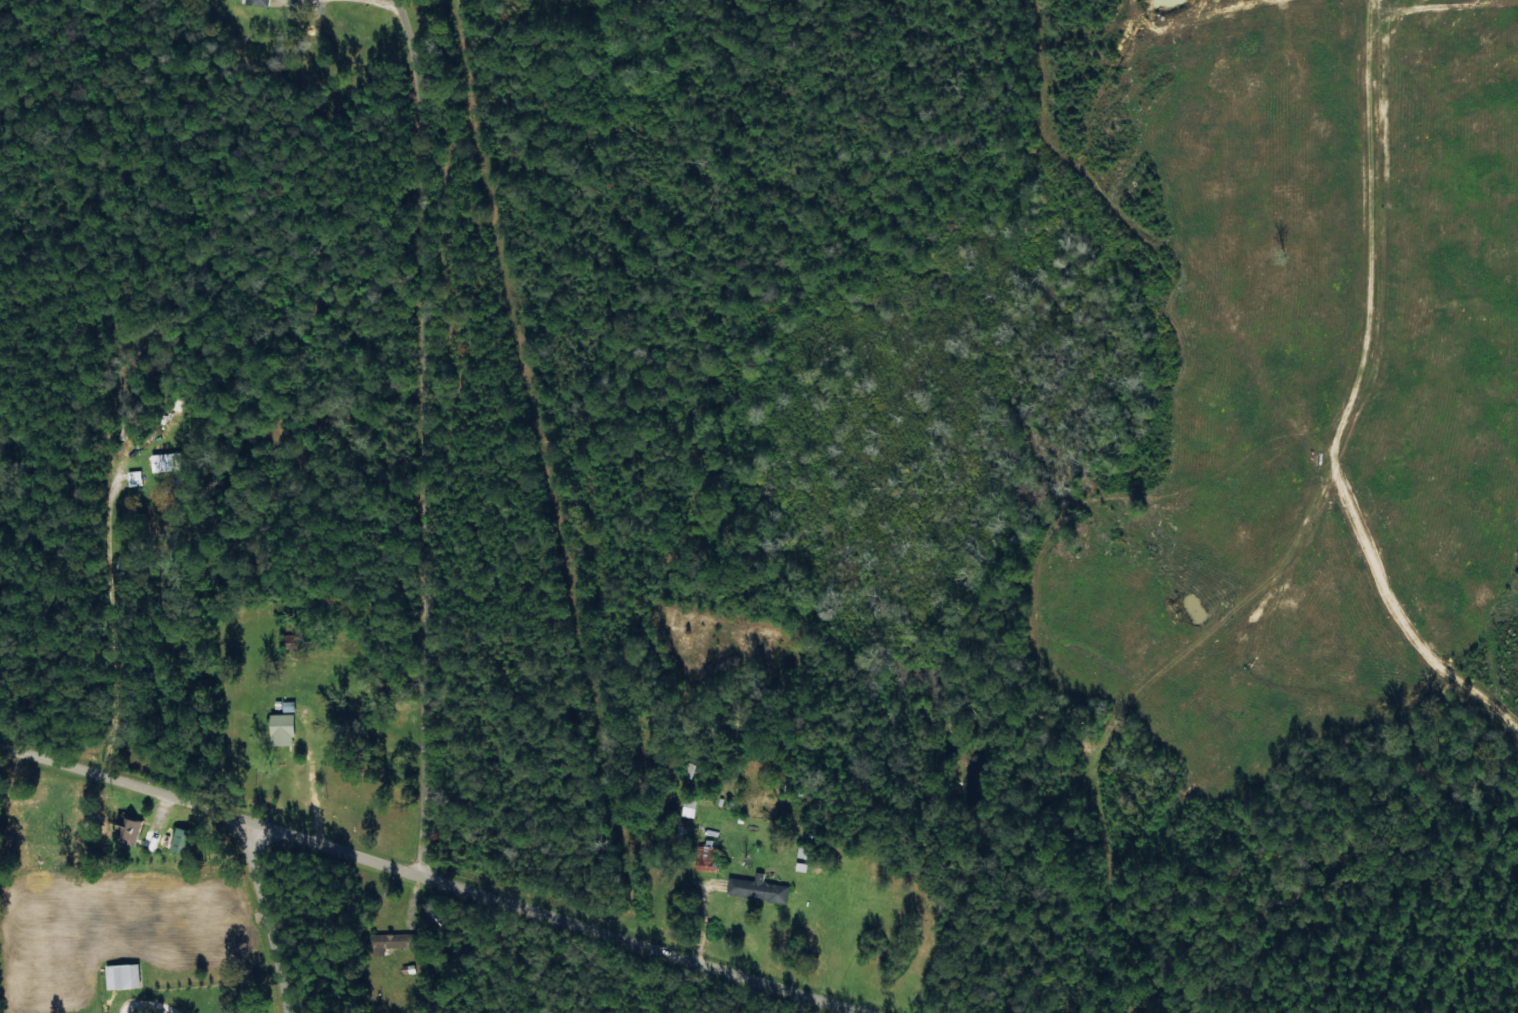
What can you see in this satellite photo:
building: (257, 2)
road: (168, 214)
road: (154, 320)
road: (415, 437)
building: (164, 461)
building: (132, 478)
building: (282, 725)
building: (687, 769)
building: (688, 806)
building: (126, 829)
building: (180, 840)
building: (705, 856)
road: (428, 879)
building: (756, 888)
road: (253, 919)
building: (391, 942)
building: (121, 976)

